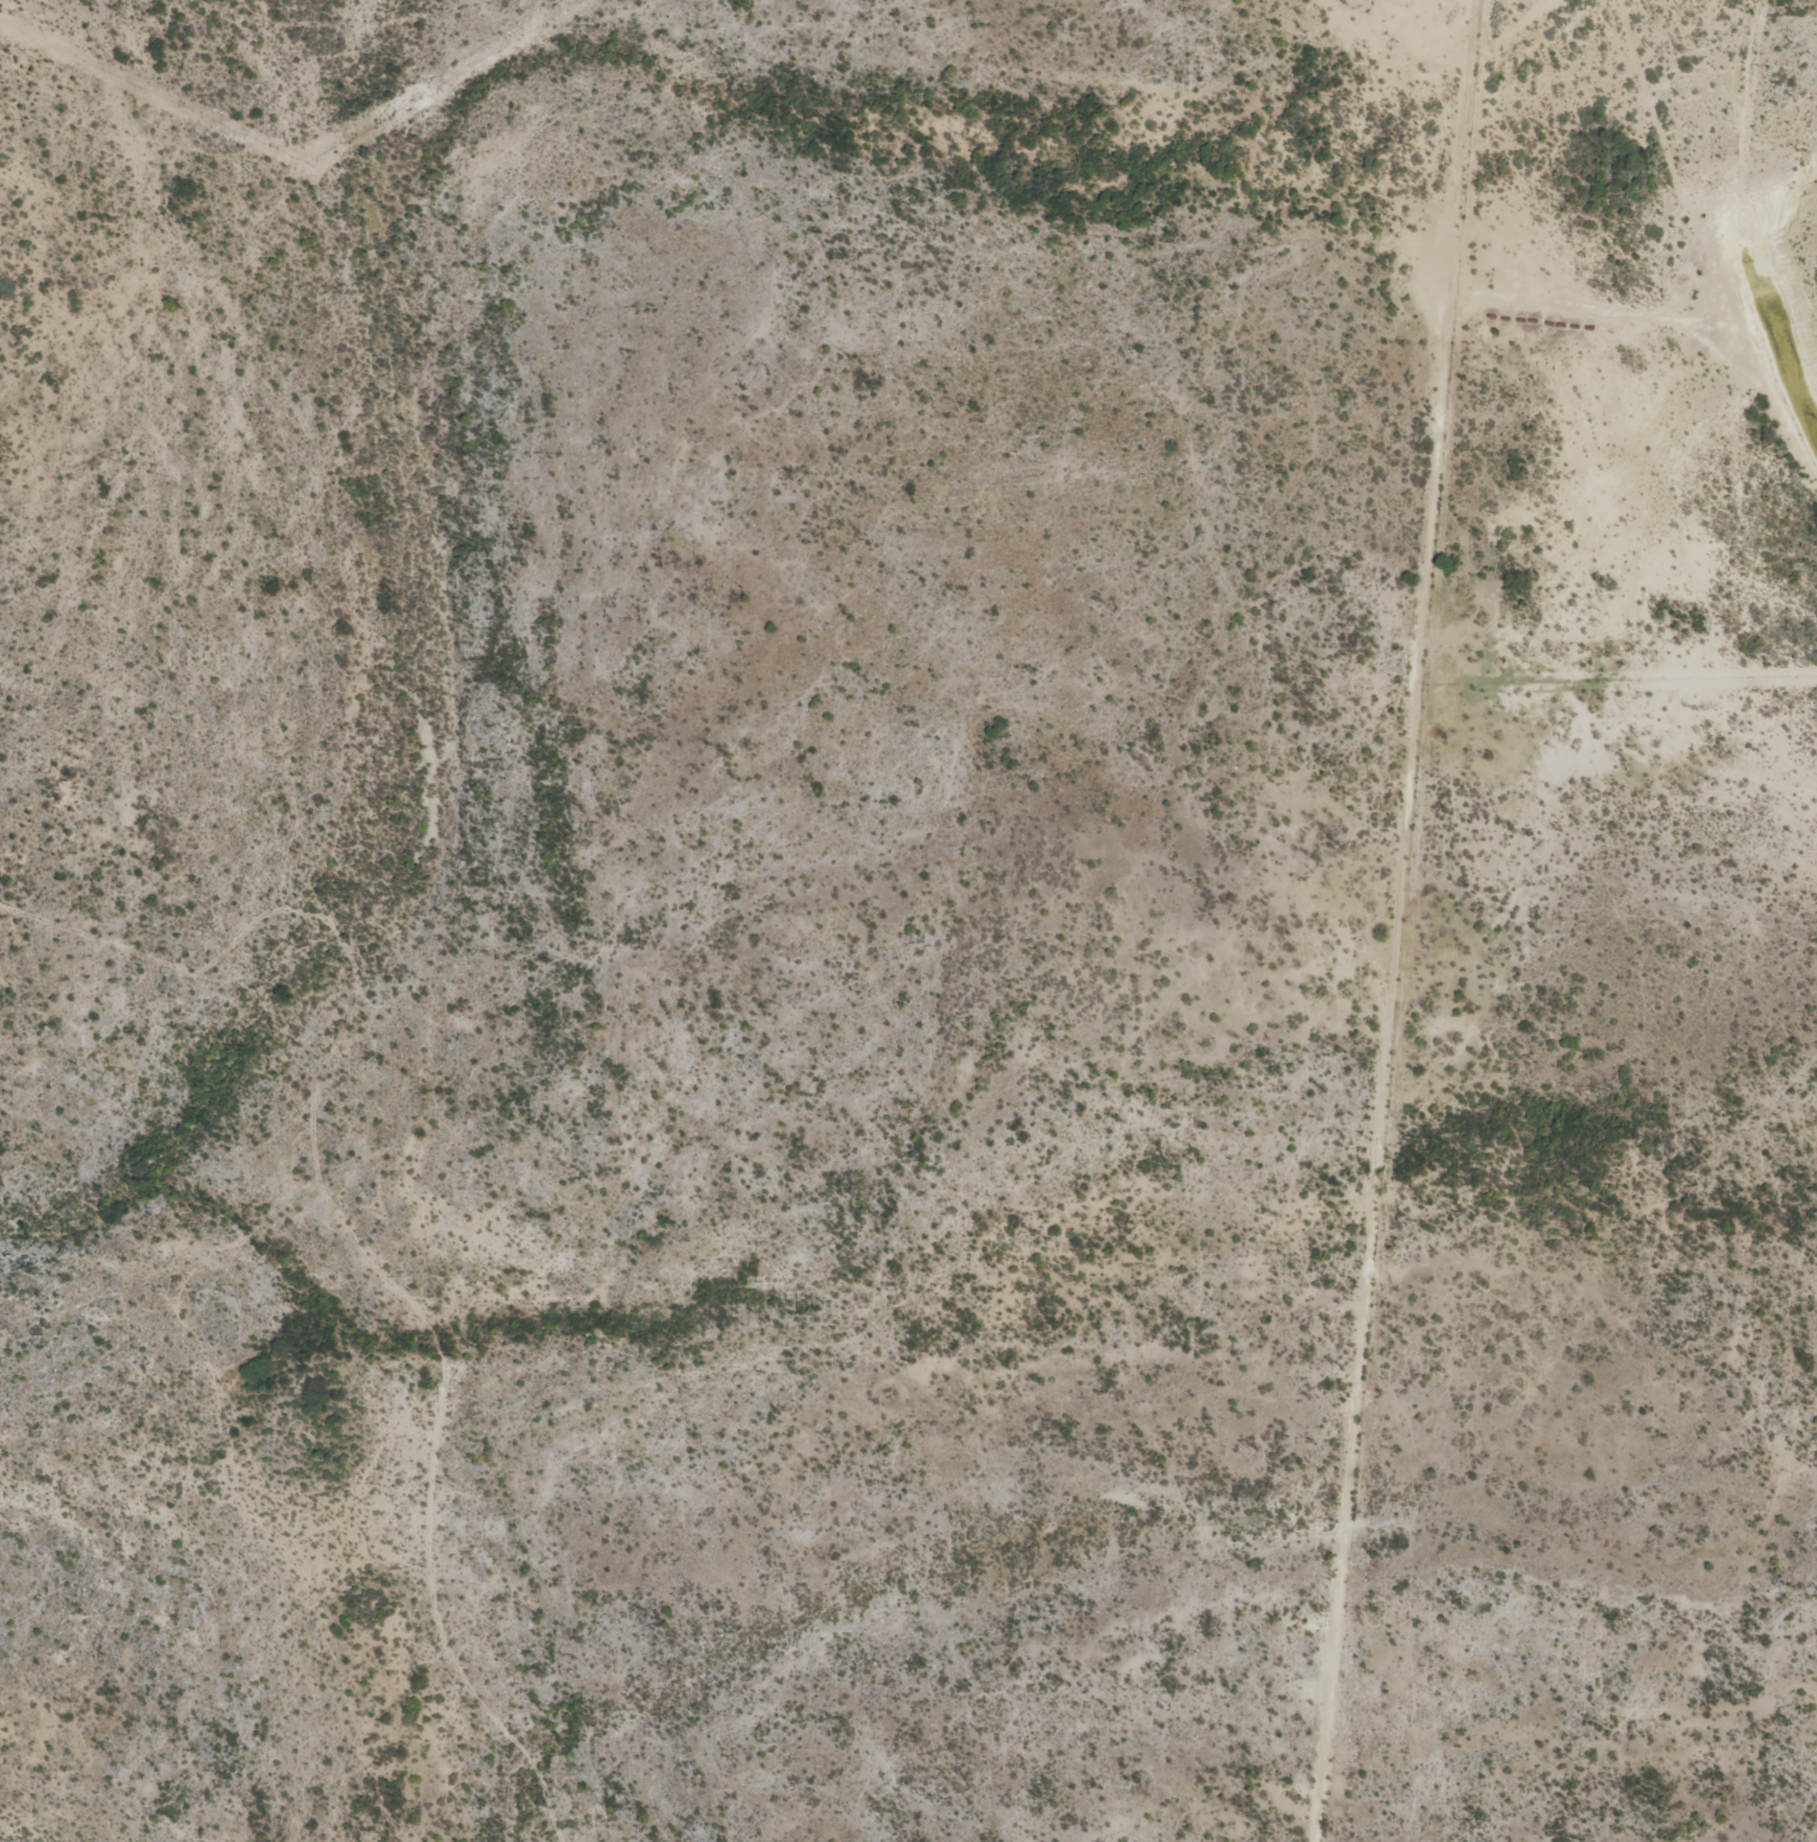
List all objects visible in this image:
road: (1719, 232)
road: (352, 1209)

